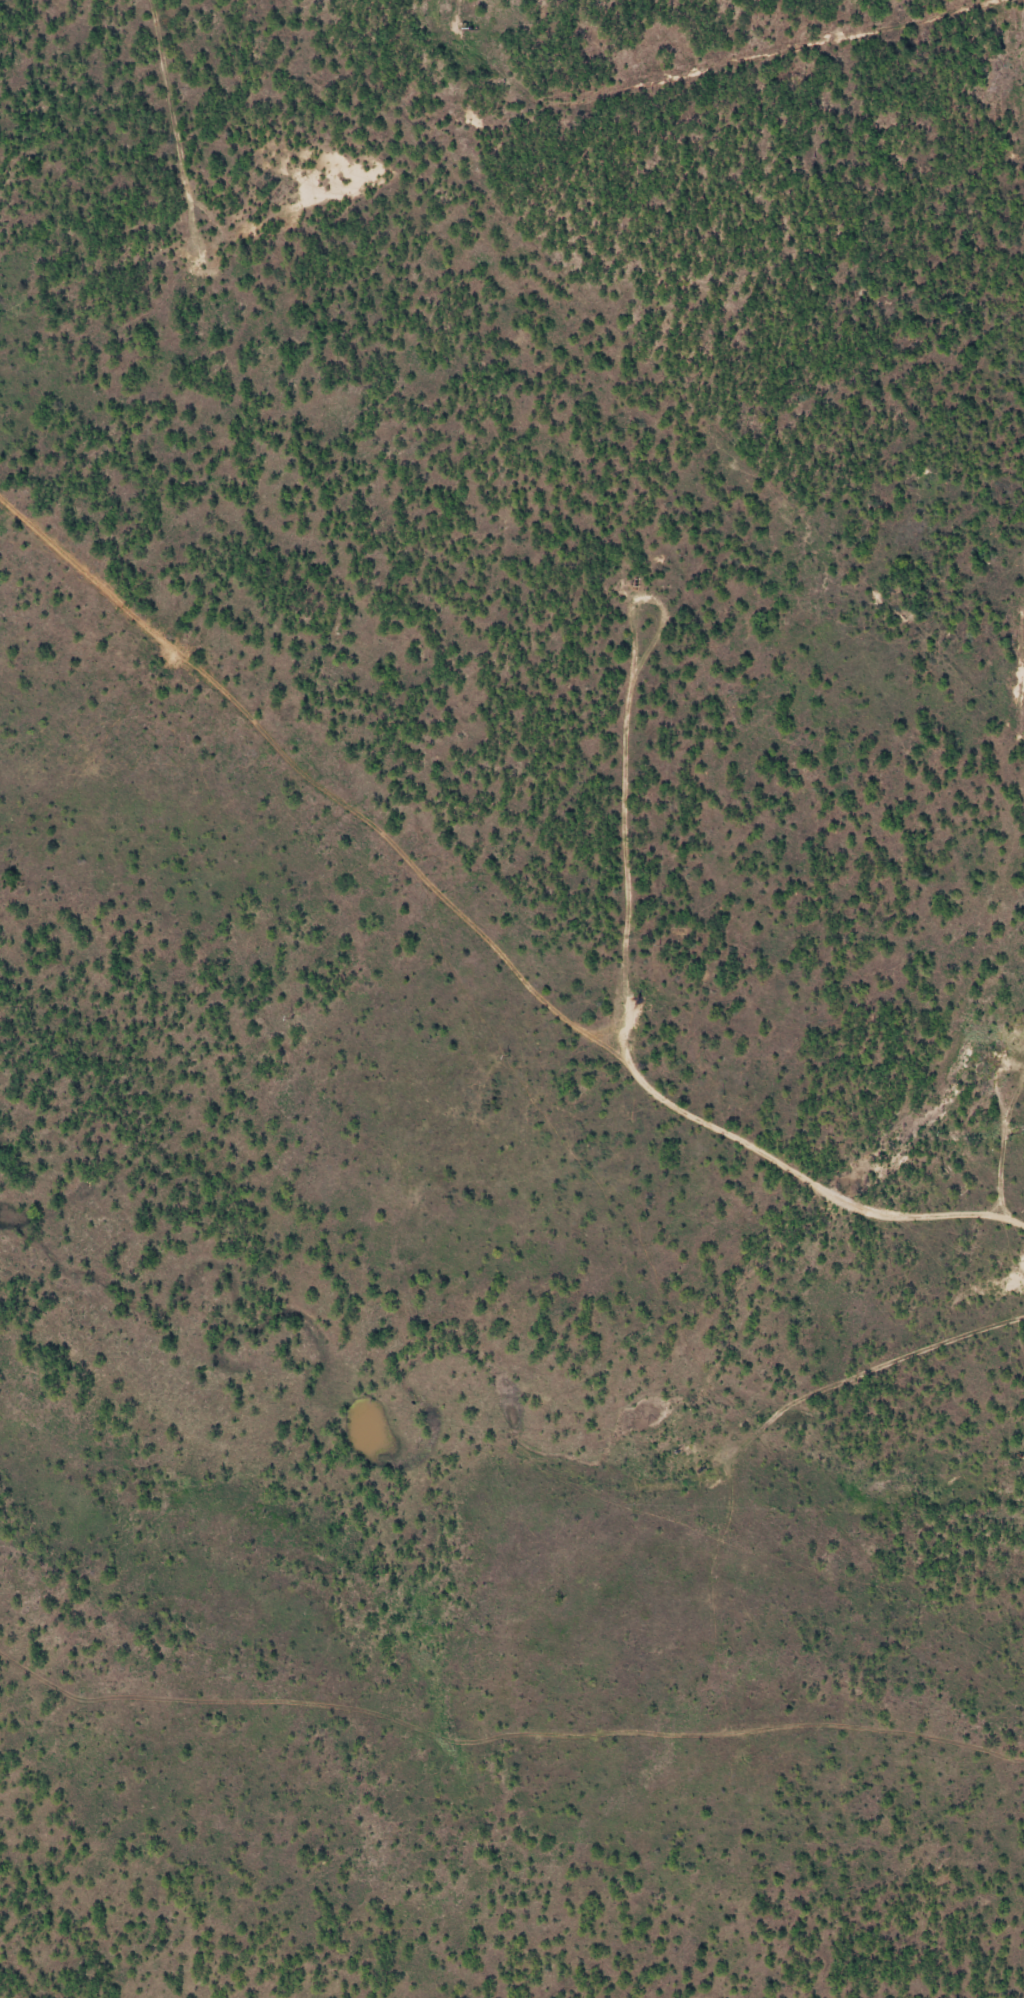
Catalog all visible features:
road: (868, 1372)
road: (958, 1942)

